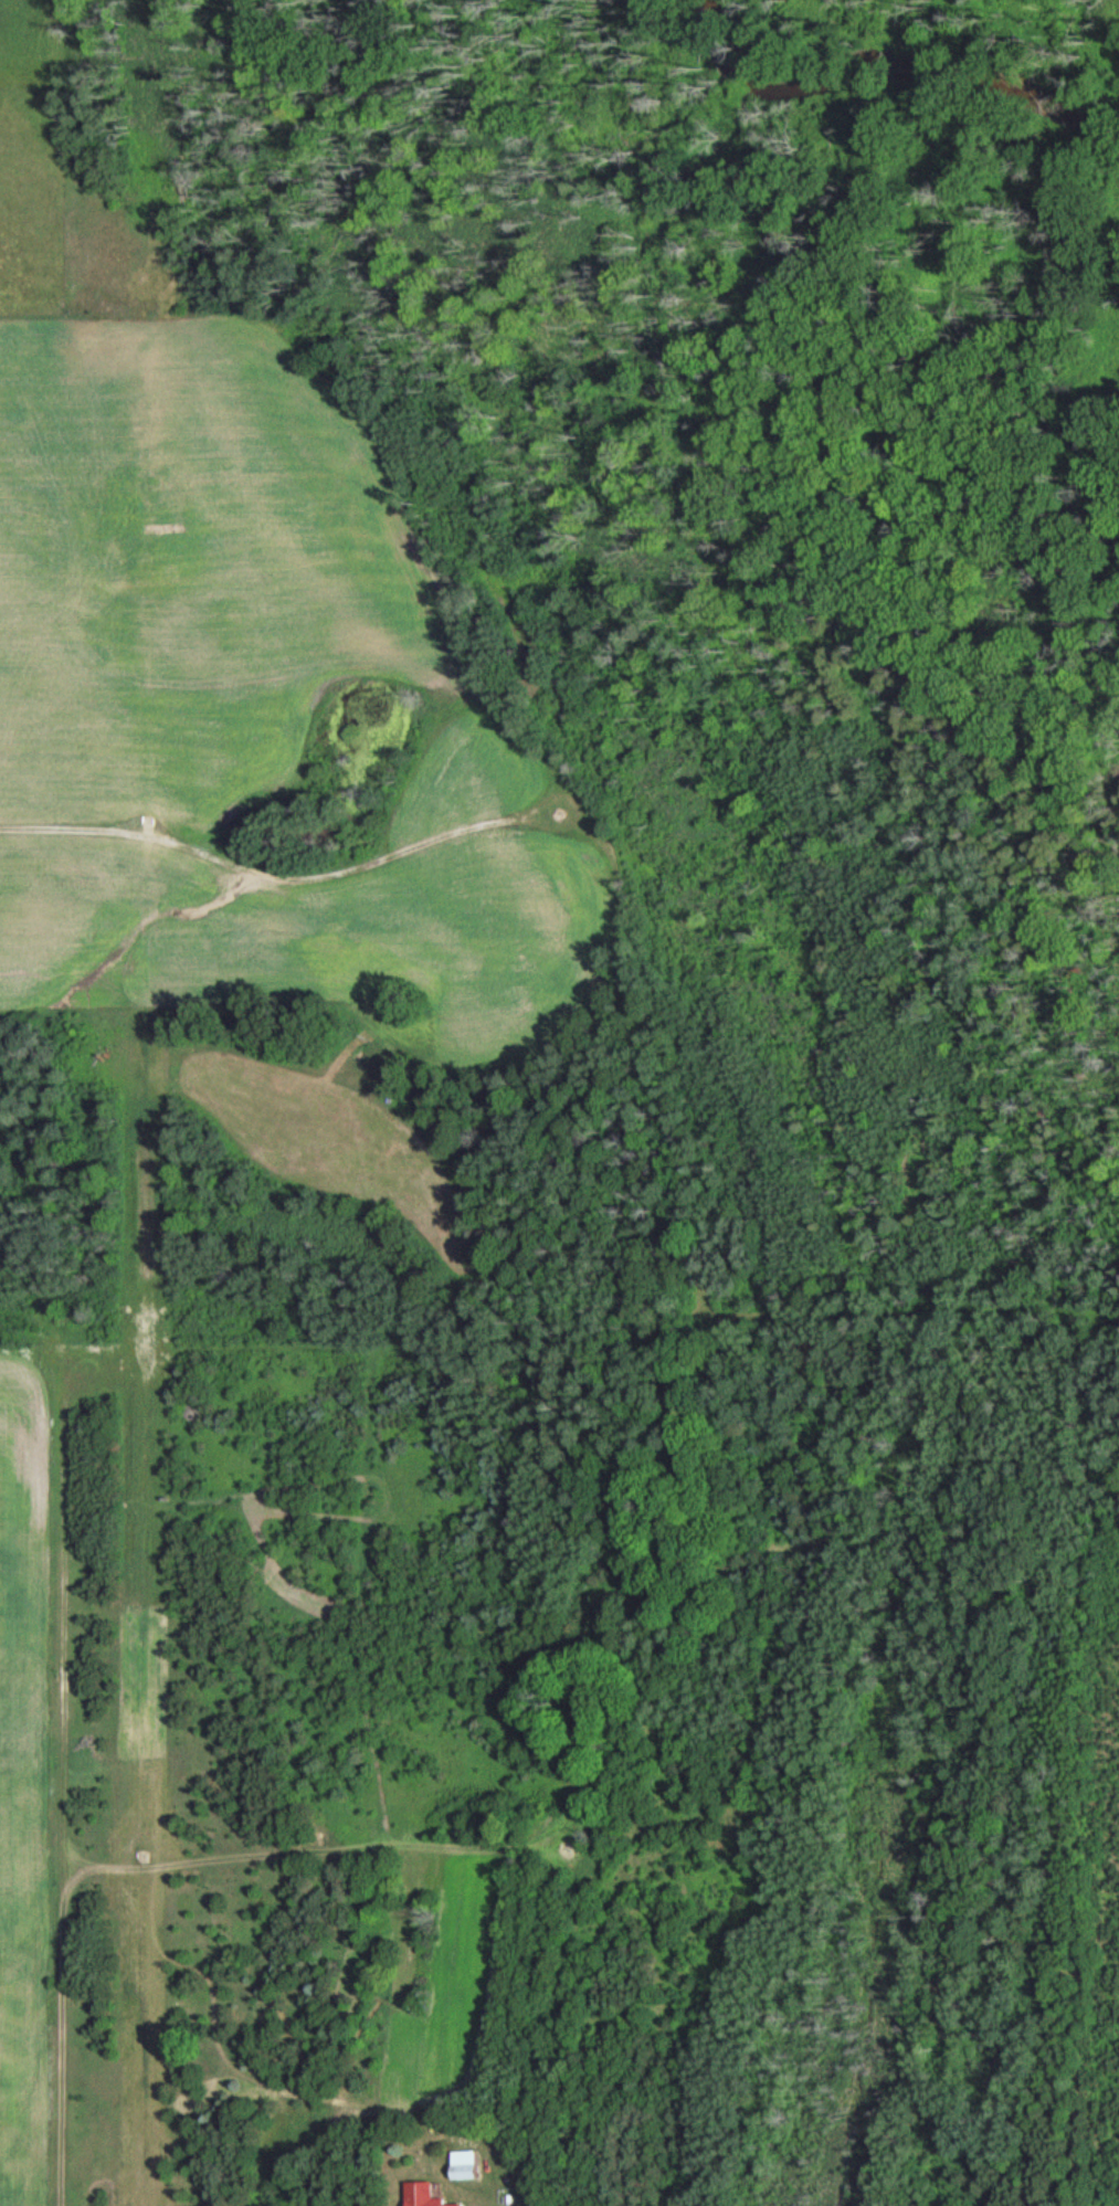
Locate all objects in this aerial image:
river: (896, 62)
building: (473, 2164)
building: (431, 2195)

